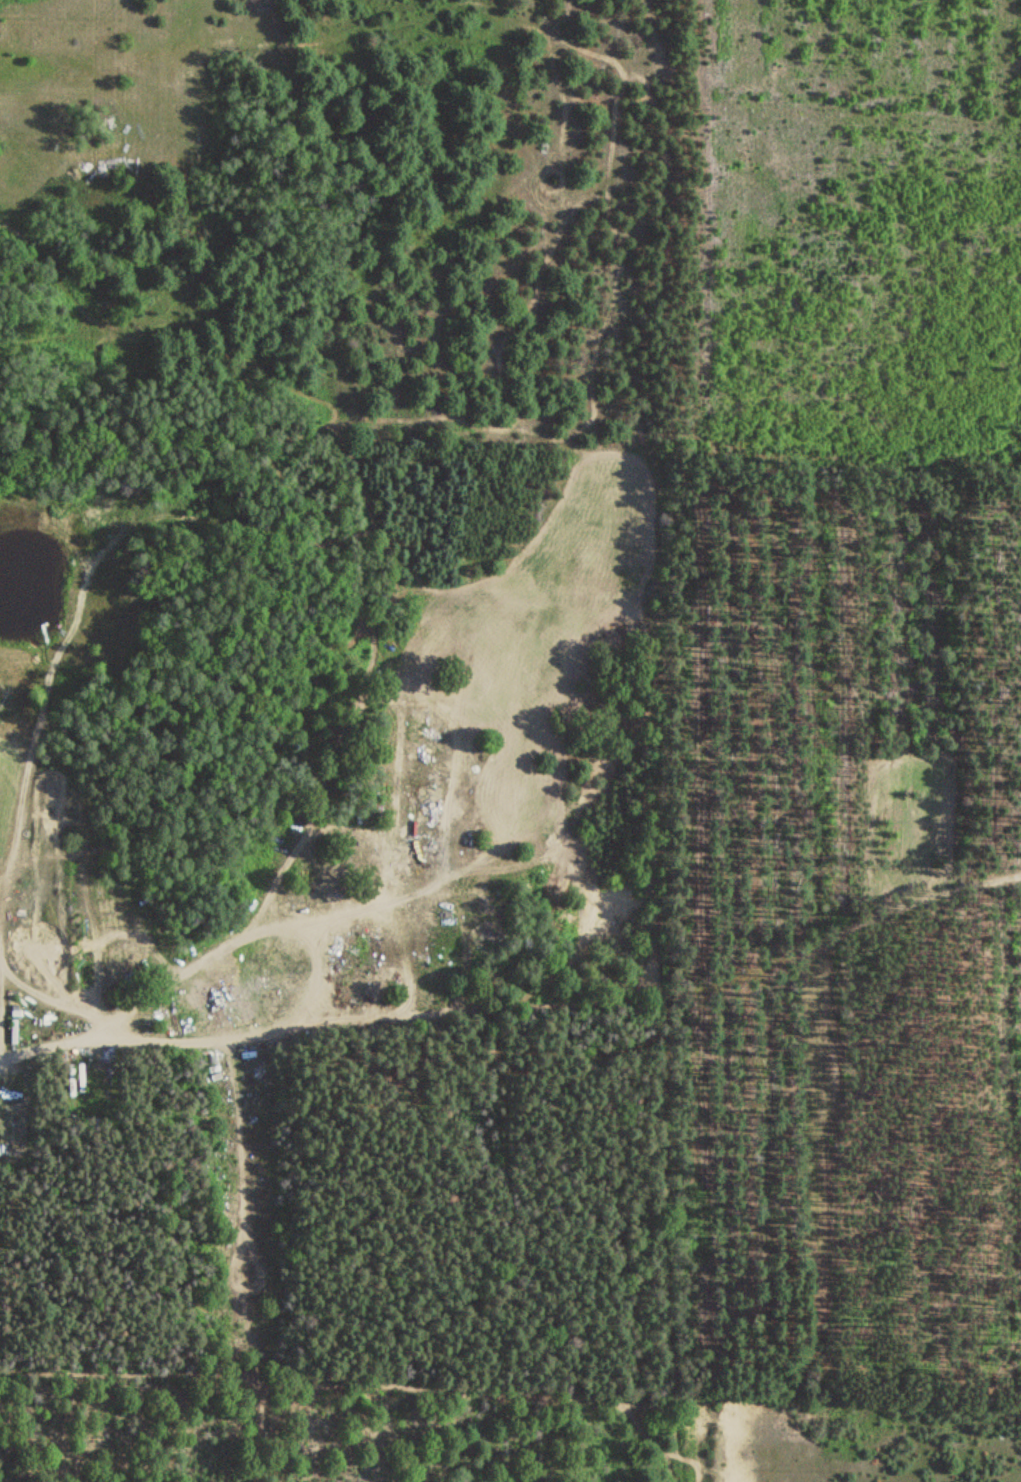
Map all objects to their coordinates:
building: (398, 824)

